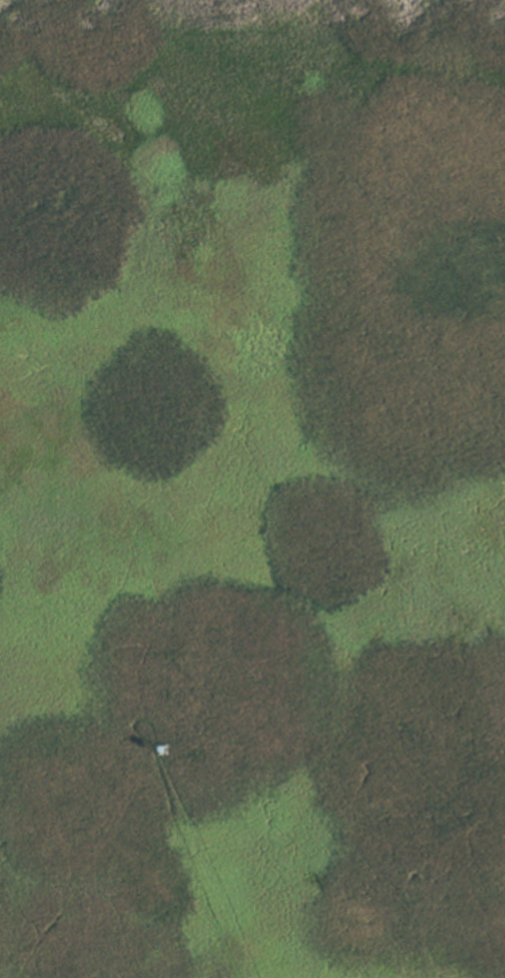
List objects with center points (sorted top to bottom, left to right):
building: (171, 750)

